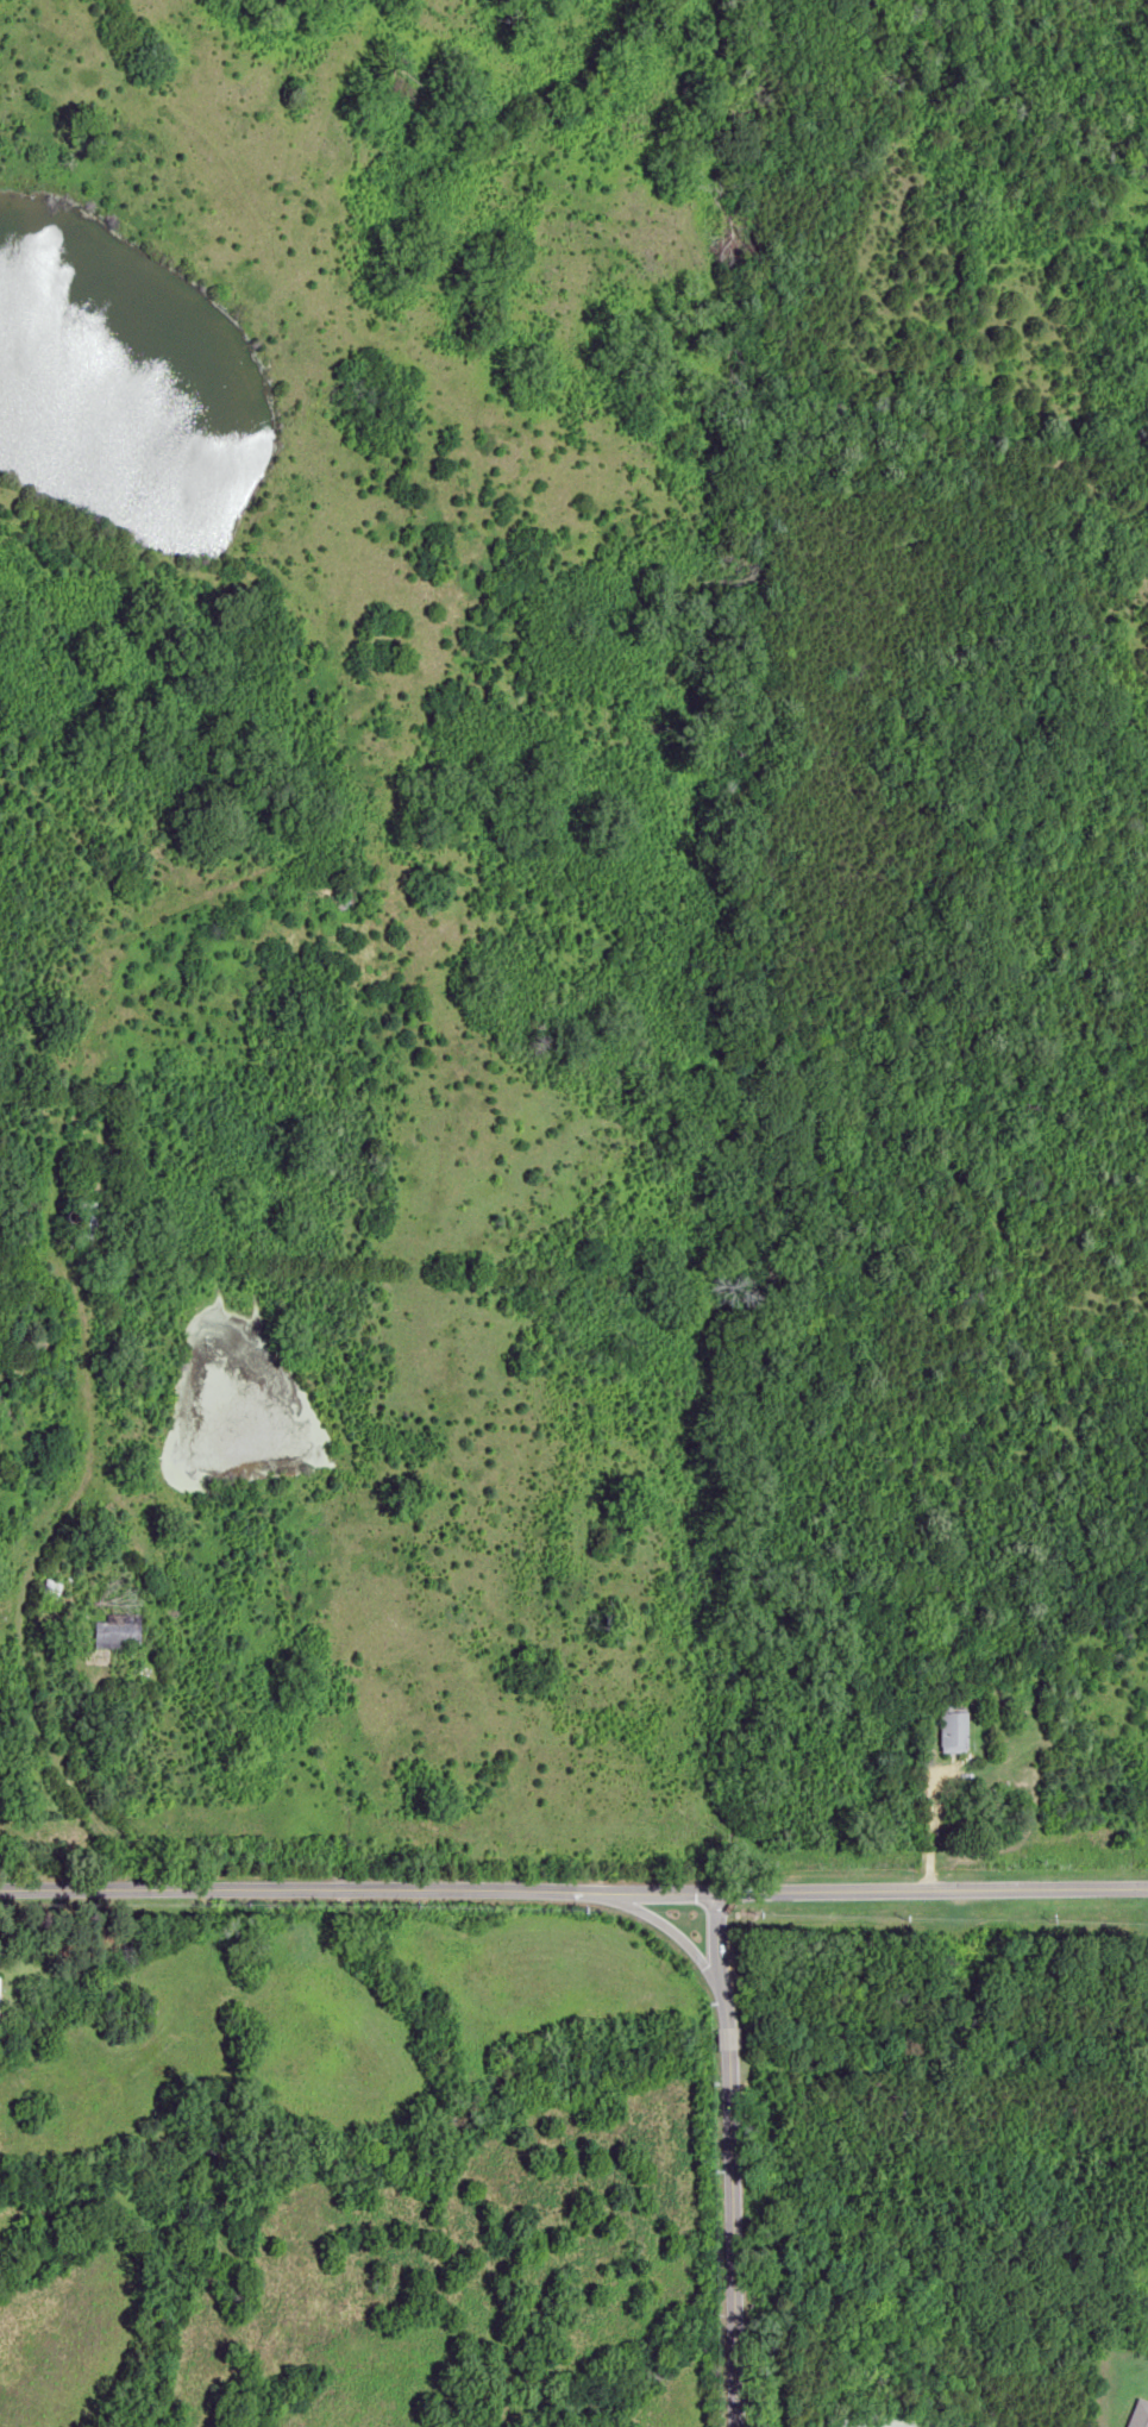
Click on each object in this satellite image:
building: (89, 1205)
building: (67, 1241)
road: (65, 1291)
building: (50, 1587)
building: (118, 1630)
building: (952, 1727)
road: (291, 1888)
road: (648, 1889)
road: (930, 1890)
road: (679, 1899)
road: (714, 1937)
road: (727, 2121)

